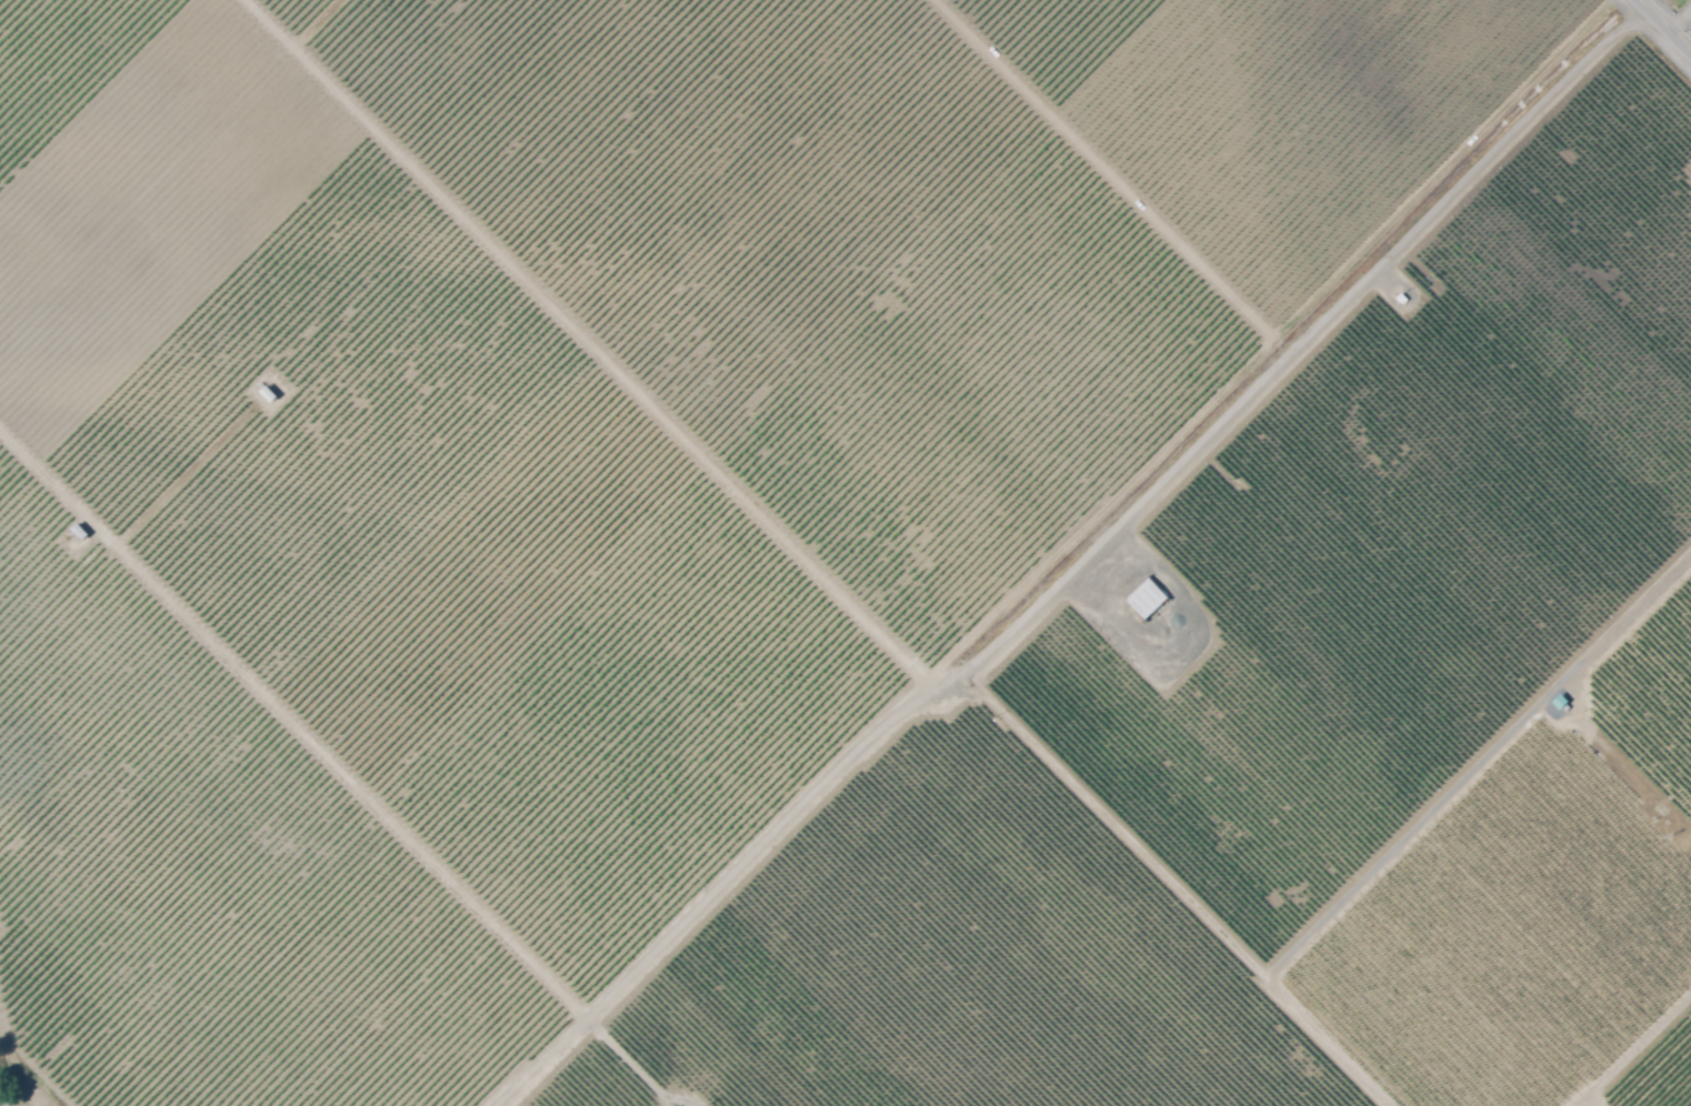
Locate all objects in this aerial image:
road: (1681, 21)
road: (1664, 24)
road: (1373, 279)
building: (1403, 299)
building: (268, 395)
building: (76, 536)
building: (1145, 600)
building: (1561, 702)
building: (688, 1105)

